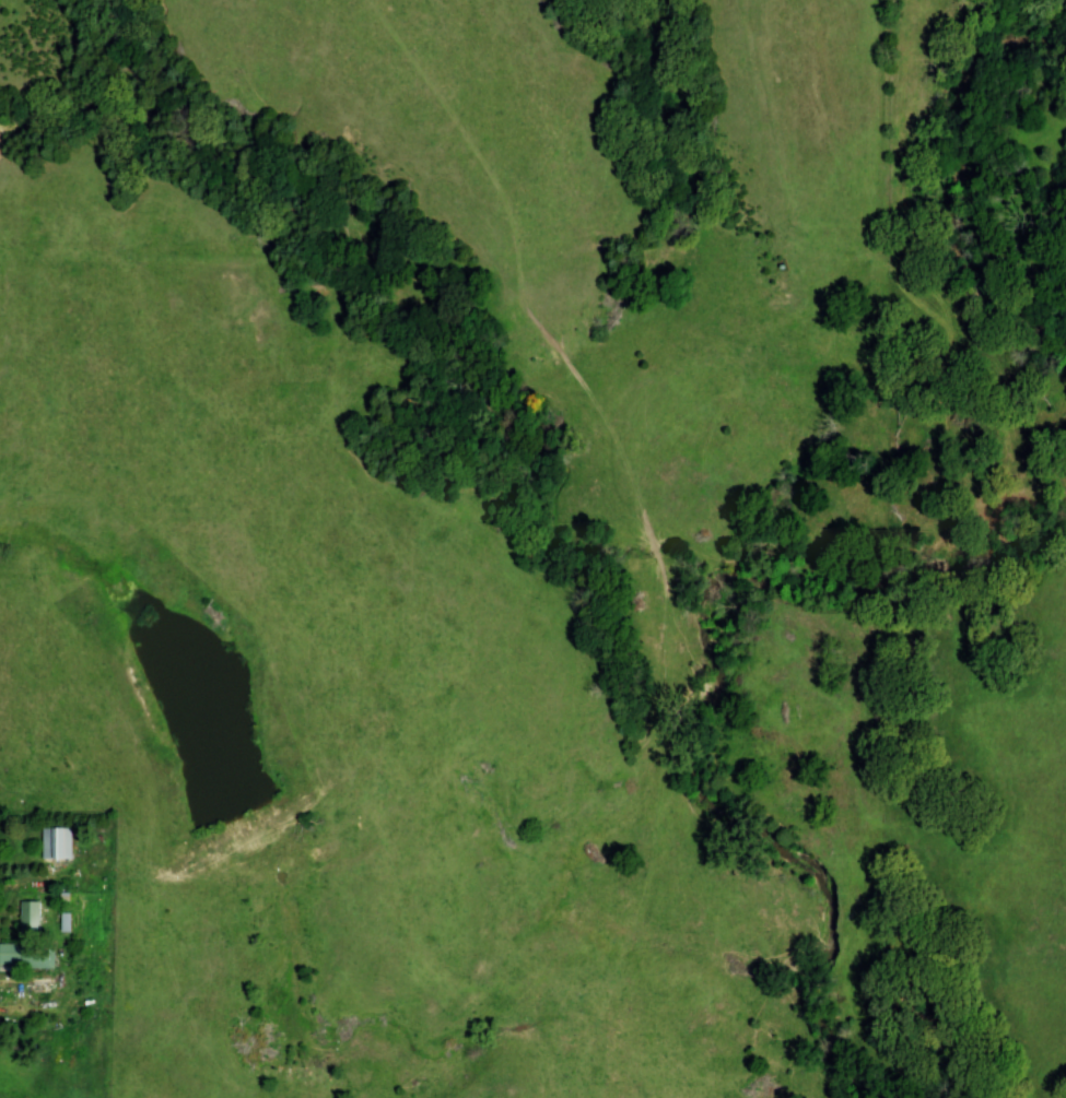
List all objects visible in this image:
building: (58, 842)
building: (31, 917)
building: (27, 956)
road: (59, 971)

